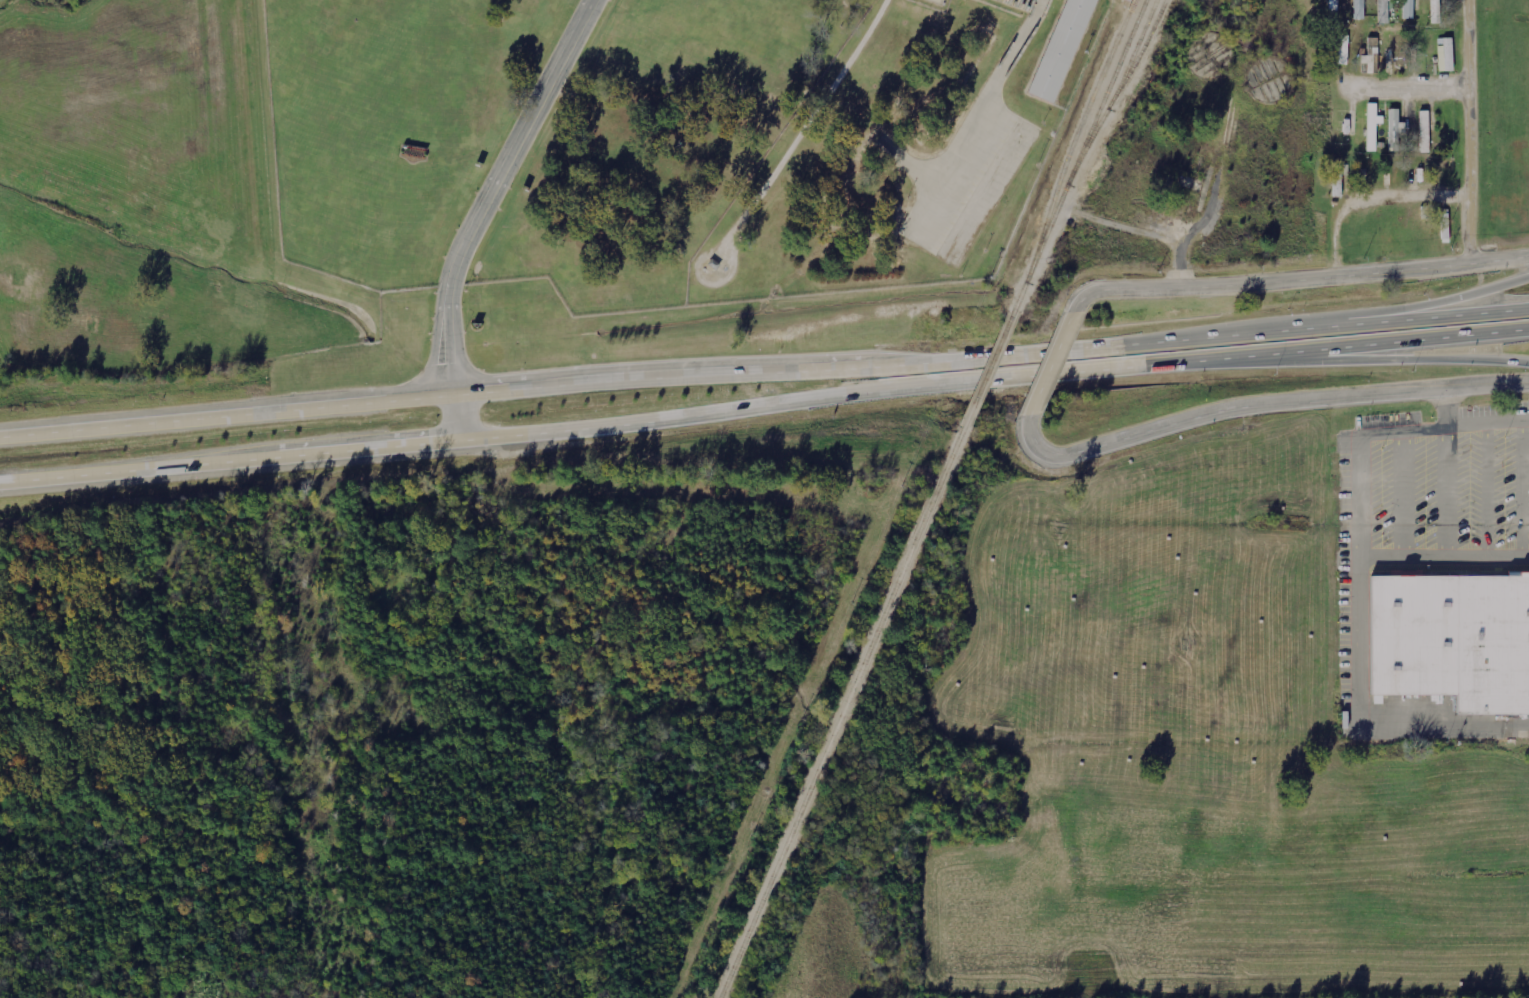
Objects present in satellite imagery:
building: (1128, 0)
building: (1434, 0)
building: (1359, 9)
building: (1409, 9)
building: (1383, 11)
building: (1398, 41)
building: (1055, 50)
building: (1344, 50)
building: (1371, 51)
building: (1446, 55)
road: (1406, 87)
building: (1350, 125)
building: (1373, 126)
building: (1395, 129)
building: (1425, 132)
road: (1466, 132)
railway: (1079, 155)
building: (1338, 180)
road: (480, 211)
road: (1298, 281)
road: (1452, 301)
road: (1354, 358)
road: (1053, 364)
railway: (990, 370)
road: (764, 374)
road: (1260, 406)
road: (764, 407)
building: (1452, 641)
railway: (841, 712)

